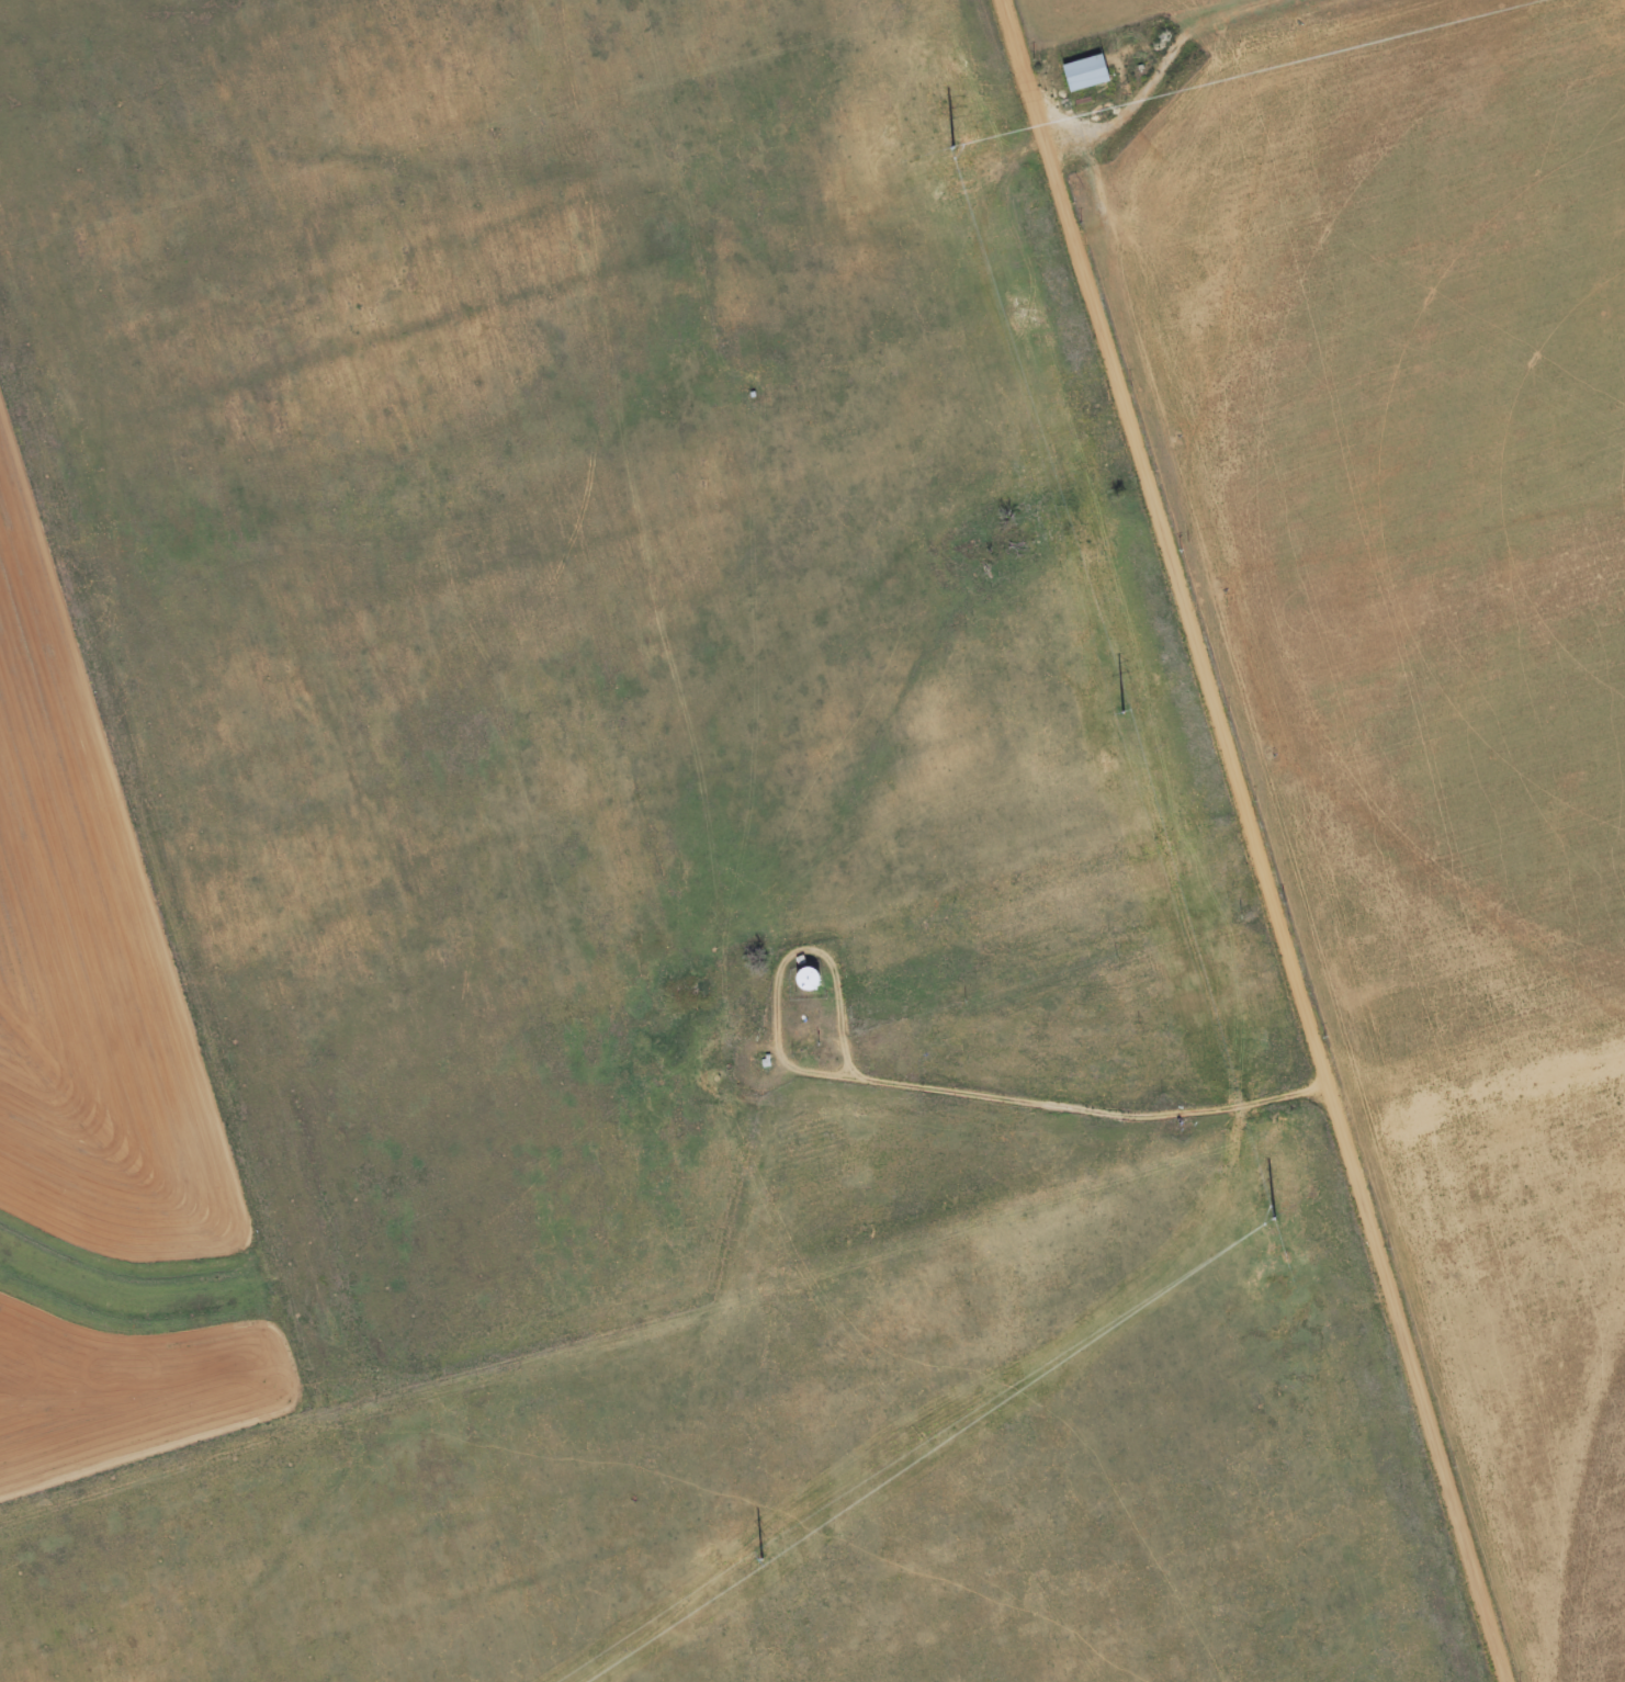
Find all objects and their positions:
building: (1087, 76)
power tower: (951, 143)
road: (1257, 840)
building: (809, 981)
power tower: (1276, 1210)

